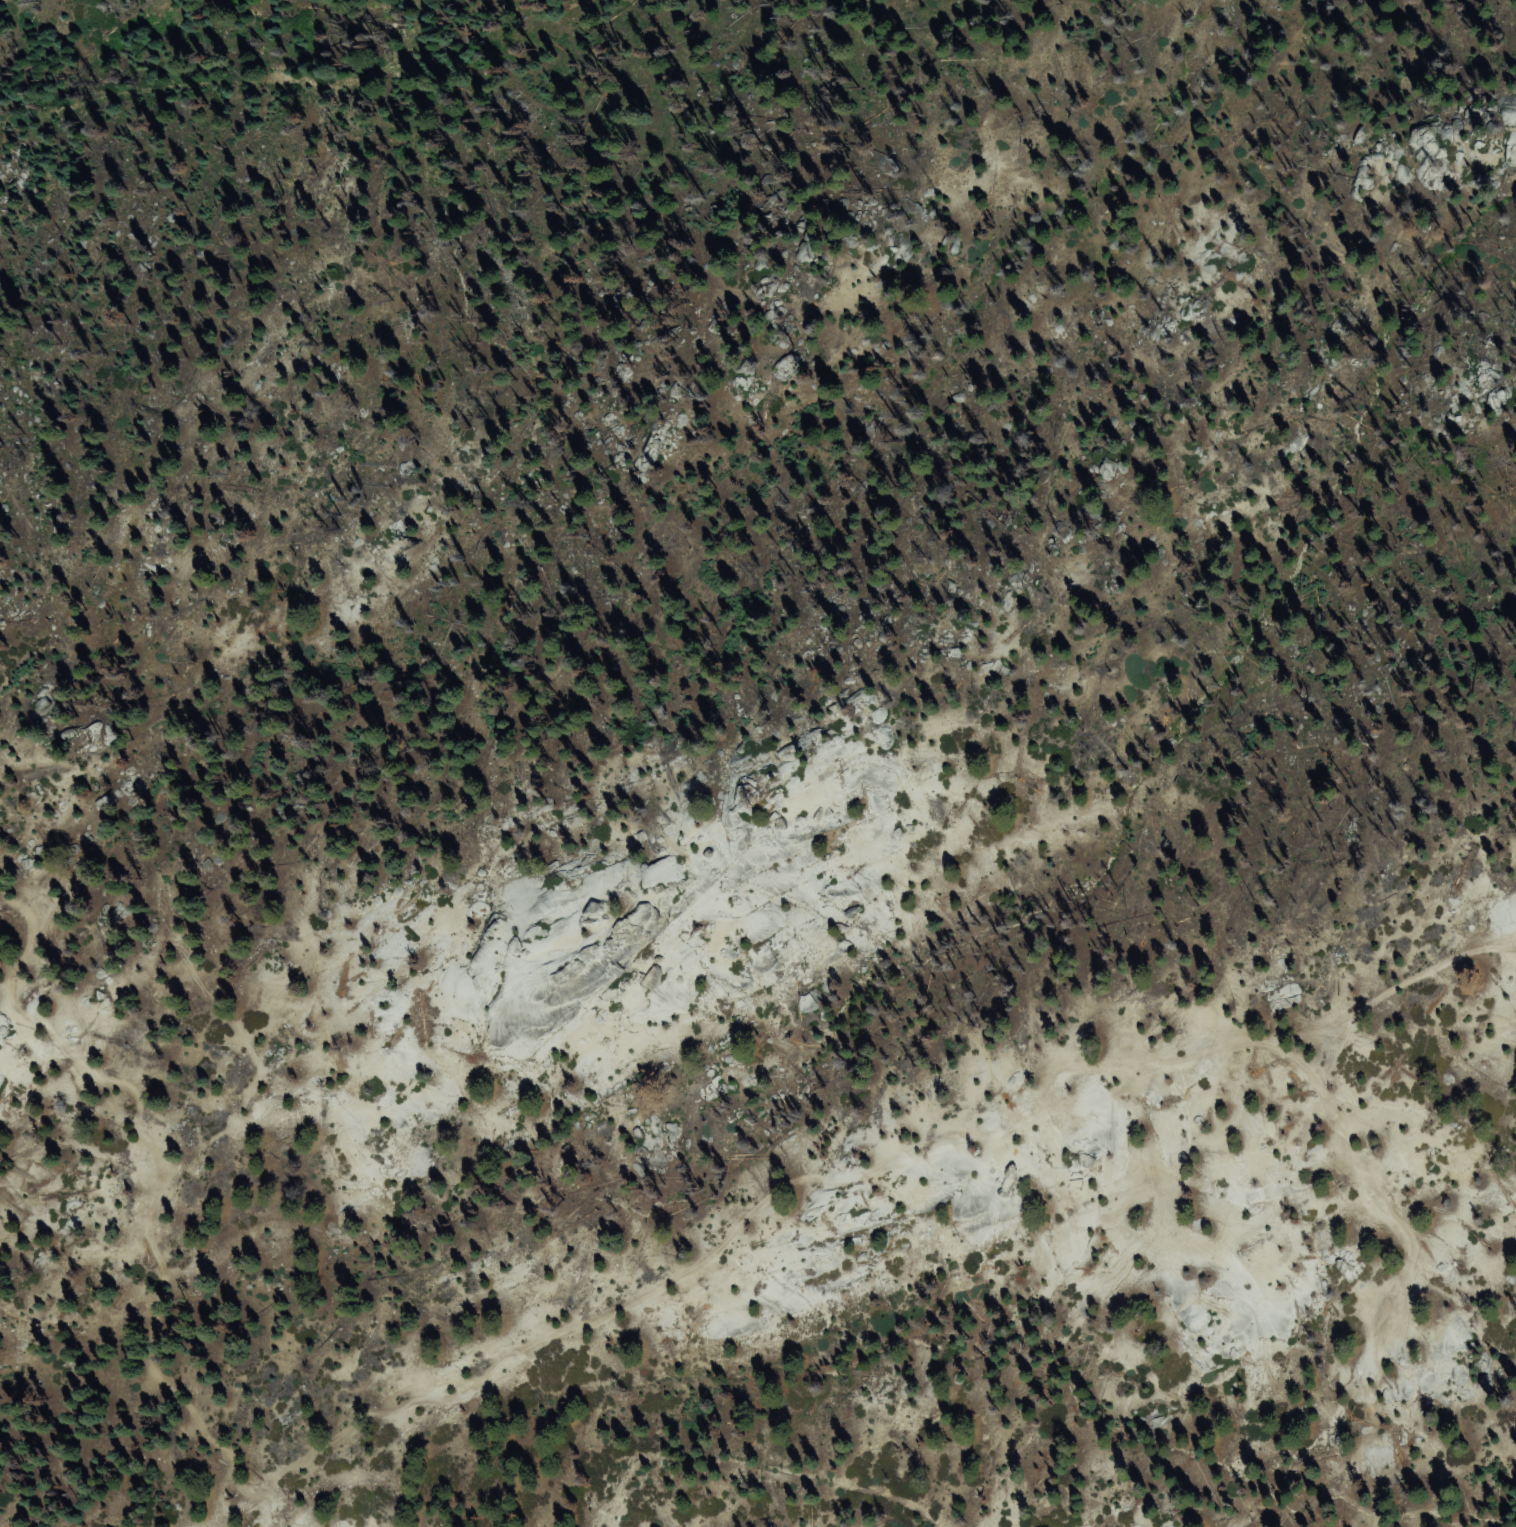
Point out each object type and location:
road: (236, 98)
road: (1405, 984)
road: (697, 1269)

